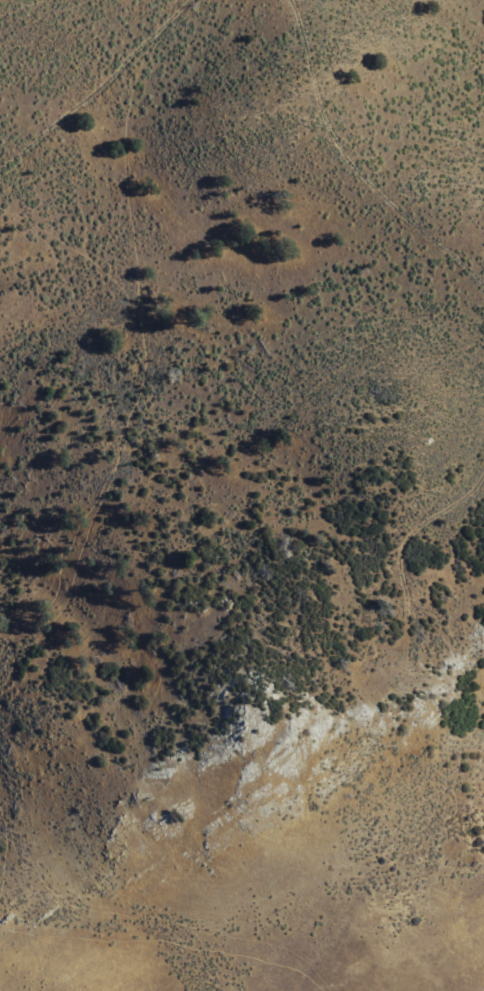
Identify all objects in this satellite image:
road: (96, 85)

